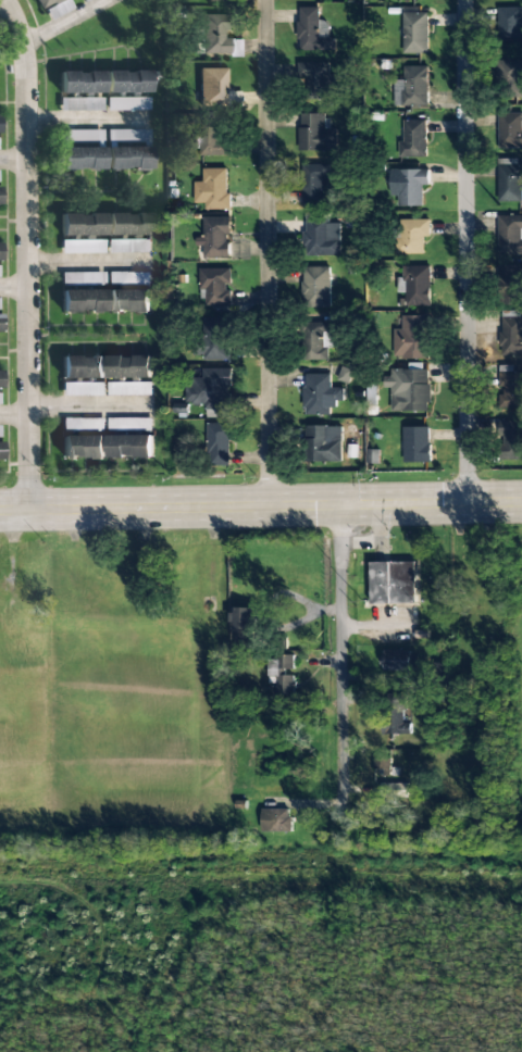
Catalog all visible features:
building: (85, 0)
building: (215, 0)
building: (45, 2)
building: (509, 25)
building: (311, 30)
building: (414, 33)
building: (213, 34)
building: (509, 78)
building: (318, 79)
building: (126, 82)
building: (79, 83)
building: (414, 86)
building: (212, 87)
building: (127, 104)
building: (510, 129)
building: (314, 133)
building: (79, 135)
building: (127, 135)
building: (212, 136)
building: (412, 138)
building: (79, 159)
building: (127, 159)
building: (510, 180)
building: (314, 184)
building: (410, 187)
building: (215, 188)
building: (79, 224)
building: (127, 224)
building: (509, 235)
building: (216, 236)
building: (412, 236)
building: (320, 237)
building: (82, 247)
road: (465, 251)
road: (28, 253)
road: (266, 253)
building: (128, 278)
building: (509, 285)
building: (214, 286)
building: (417, 286)
building: (314, 287)
building: (80, 300)
building: (128, 300)
building: (510, 334)
building: (212, 338)
building: (410, 338)
building: (315, 340)
building: (82, 366)
building: (129, 366)
building: (345, 375)
building: (509, 386)
building: (129, 388)
building: (83, 389)
building: (410, 389)
building: (210, 391)
building: (320, 393)
building: (129, 422)
building: (82, 424)
building: (510, 440)
building: (321, 442)
building: (217, 443)
building: (417, 444)
building: (129, 446)
building: (83, 447)
building: (0, 451)
road: (261, 506)
building: (393, 583)
building: (244, 627)
road: (339, 659)
building: (399, 660)
building: (281, 673)
building: (394, 714)
building: (381, 766)
building: (393, 790)
building: (276, 819)

